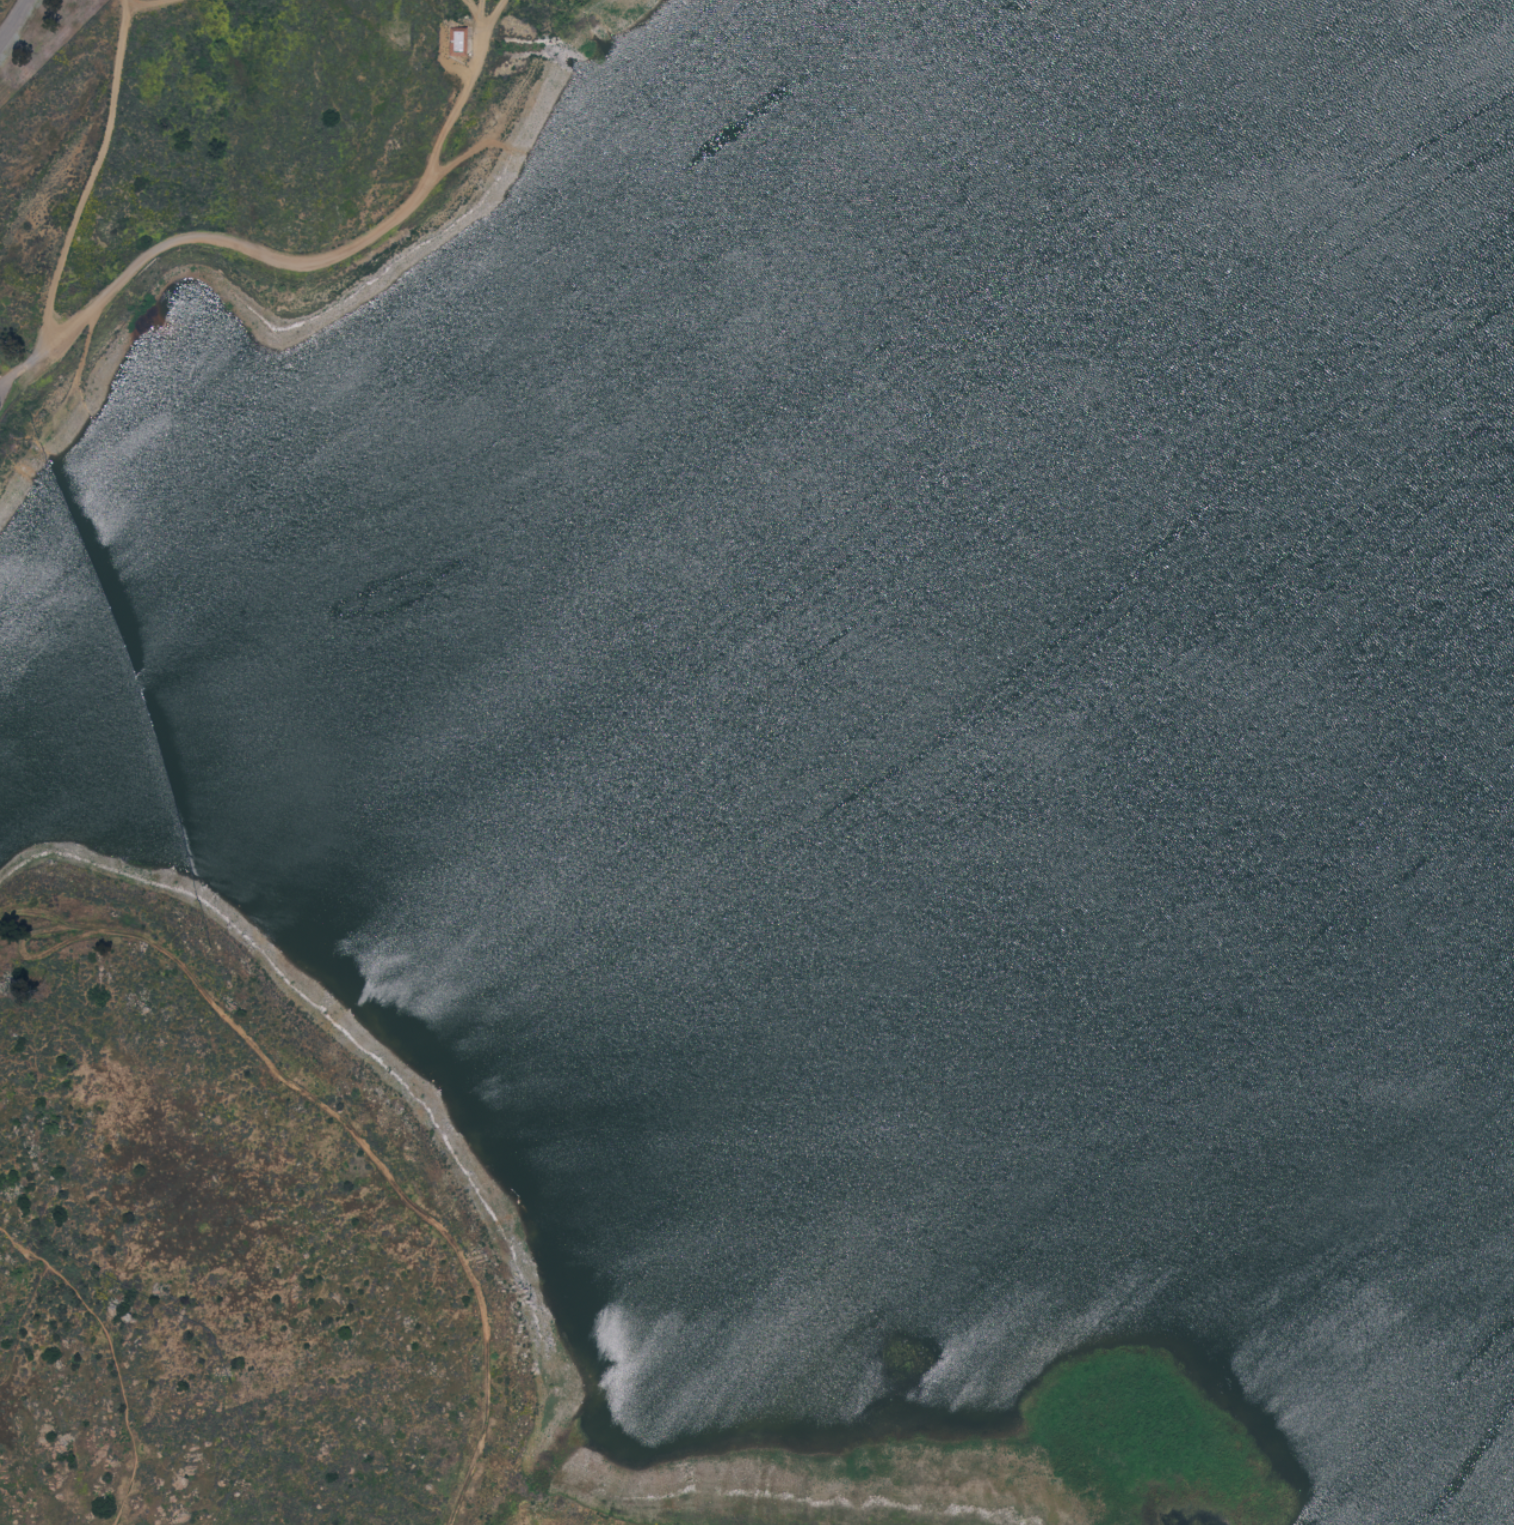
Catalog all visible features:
road: (150, 5)
road: (14, 20)
building: (458, 40)
road: (480, 43)
road: (112, 1358)

